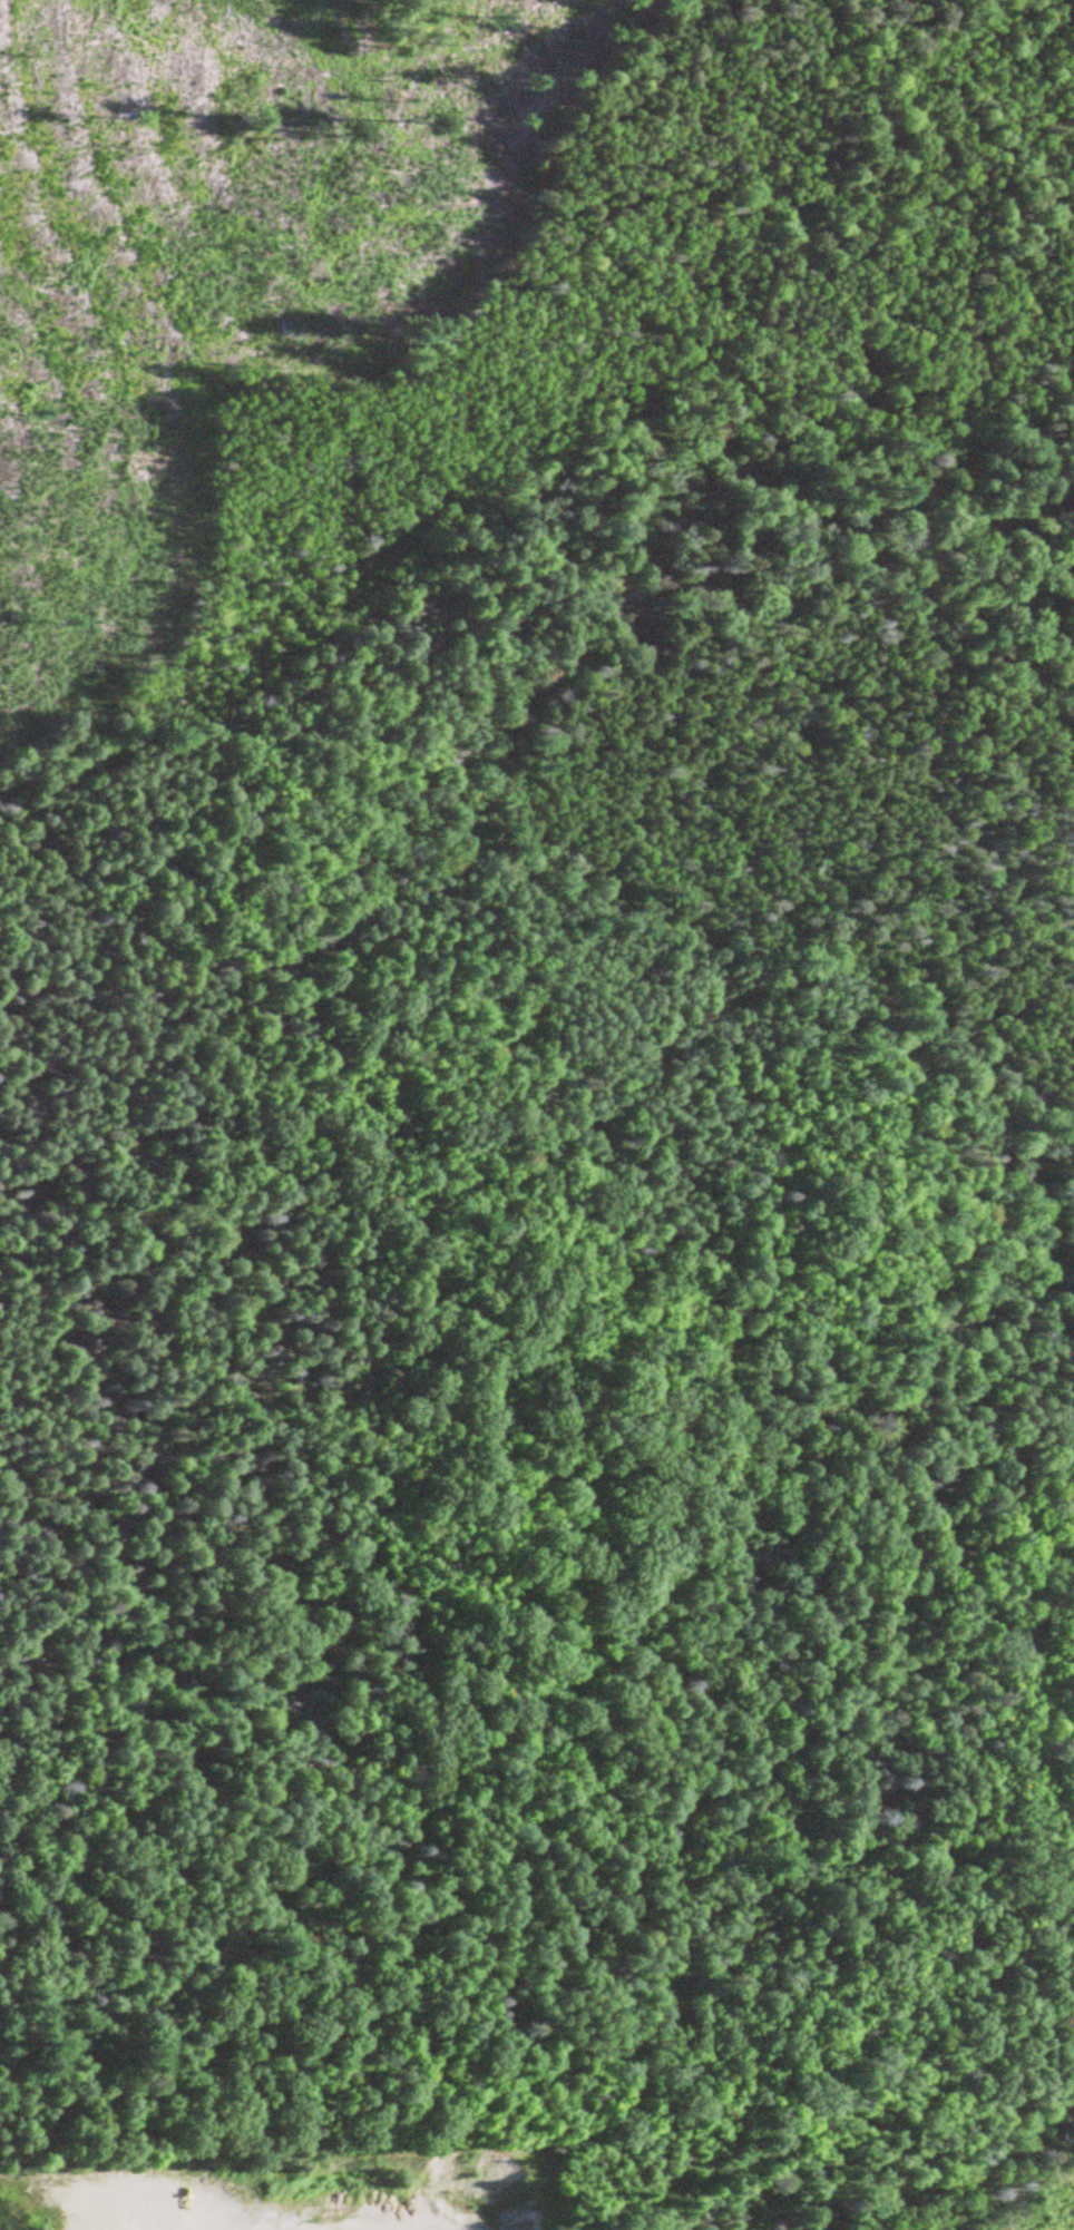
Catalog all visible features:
quarry: (279, 2183)

